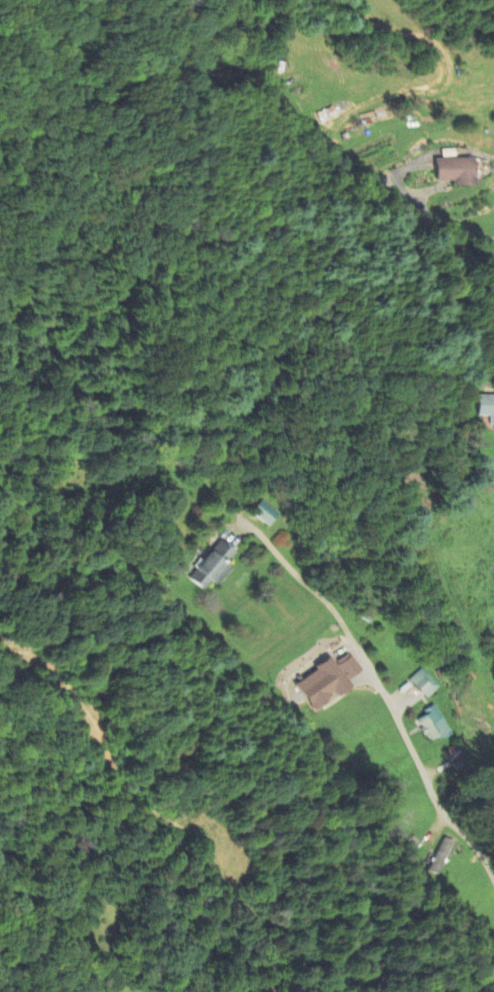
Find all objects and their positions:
building: (455, 171)
road: (423, 204)
building: (485, 408)
building: (264, 513)
building: (212, 567)
building: (326, 682)
building: (424, 683)
building: (433, 725)
road: (399, 727)
building: (440, 856)

